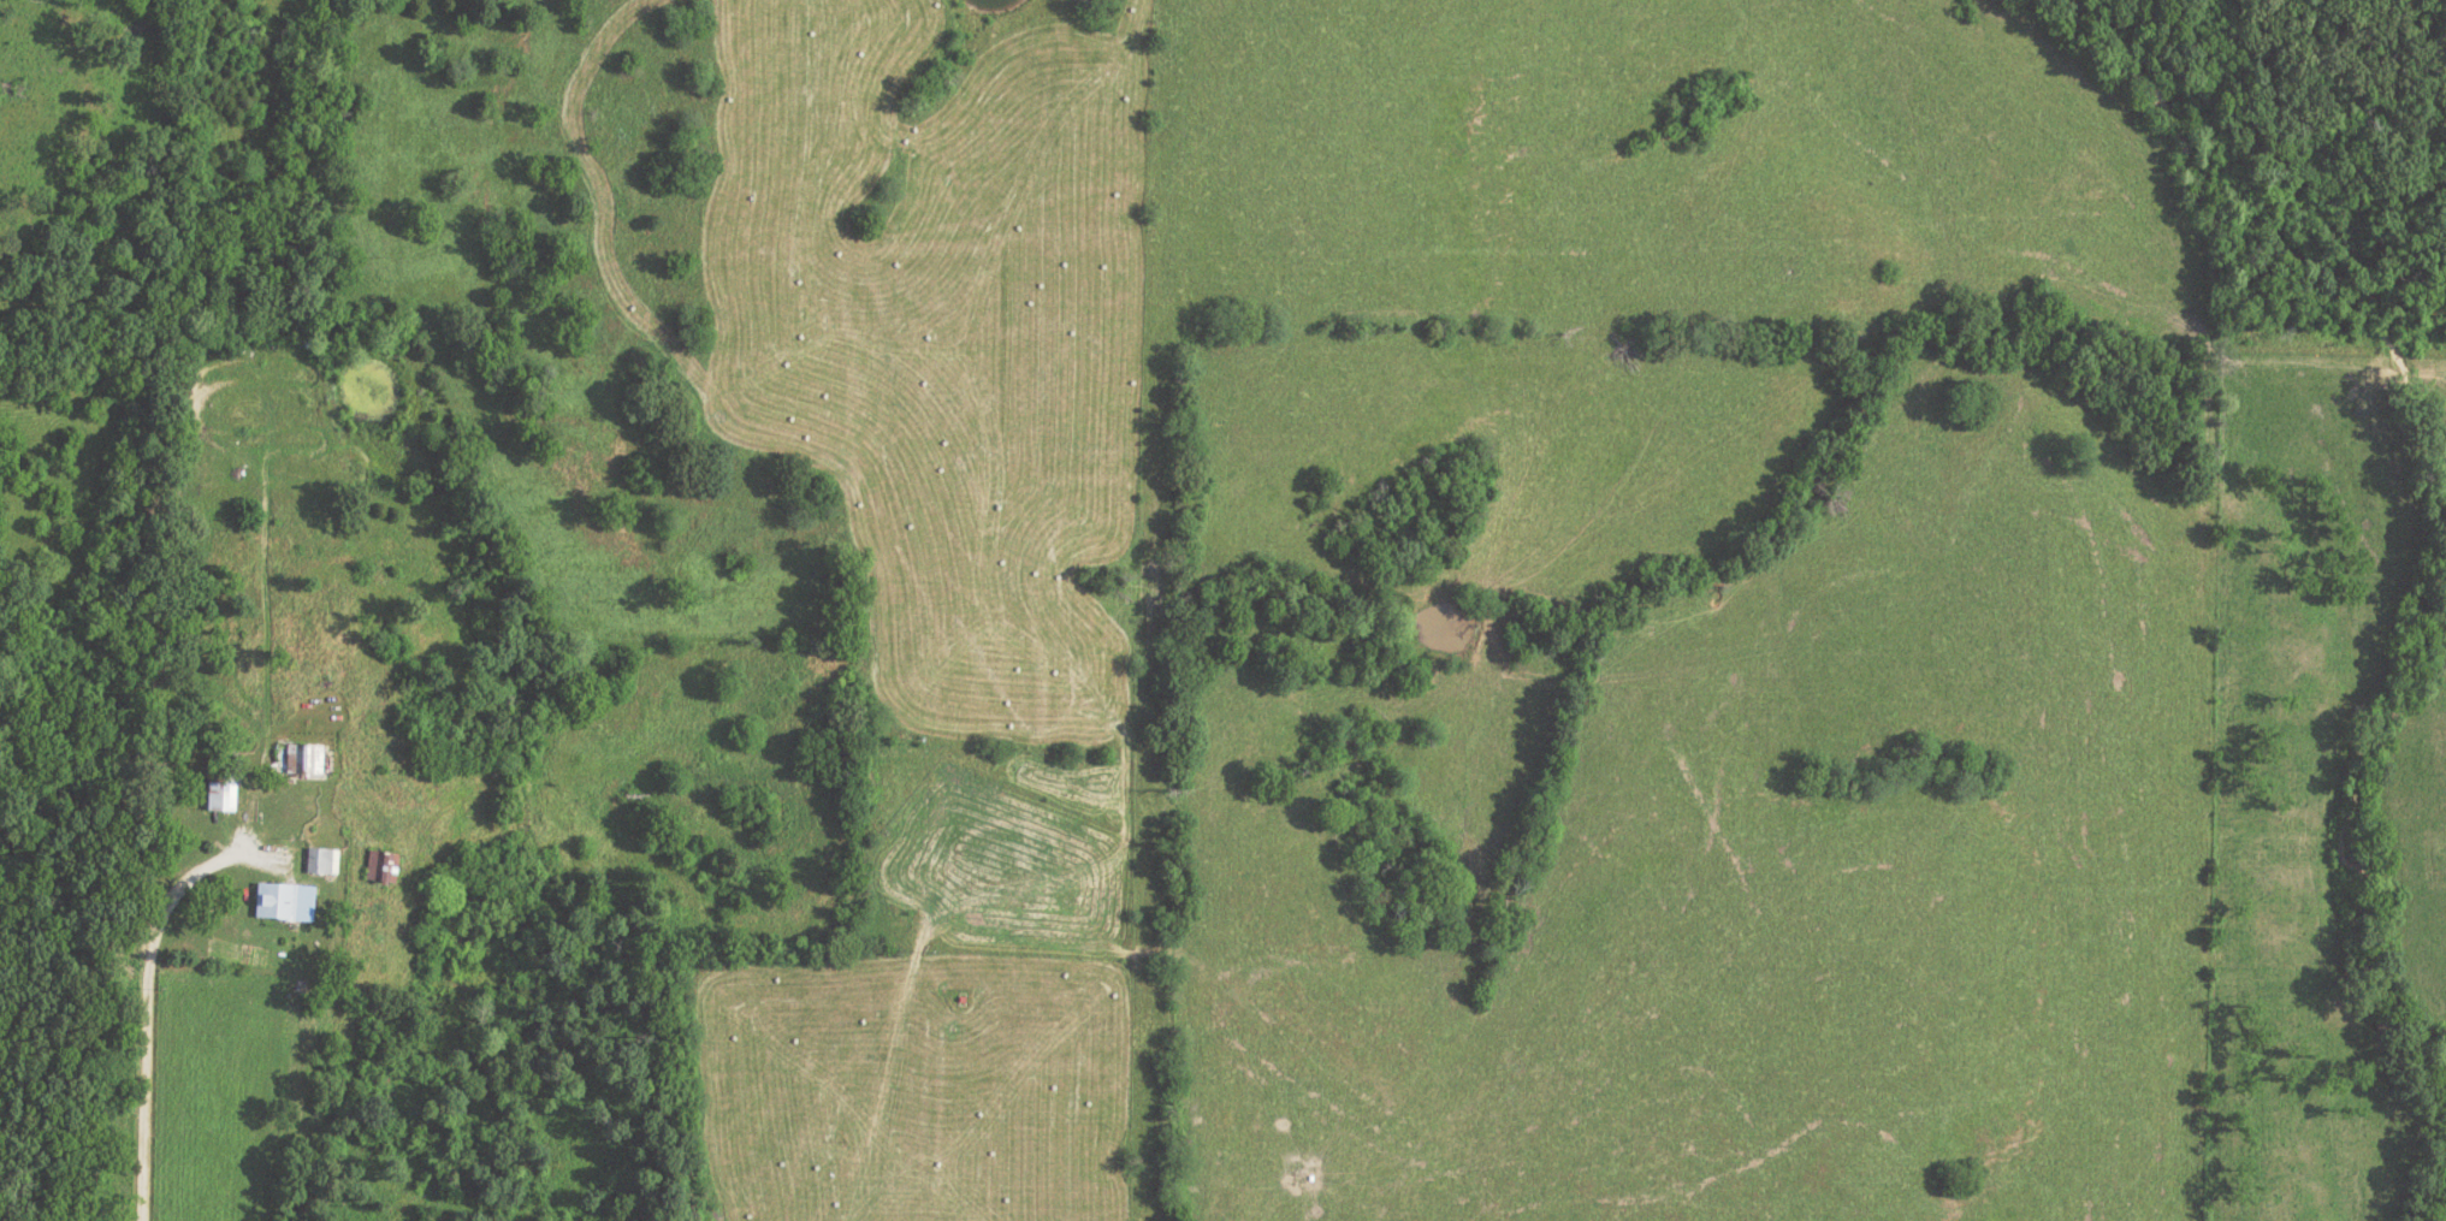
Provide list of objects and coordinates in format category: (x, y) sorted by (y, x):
building: (310, 758)
building: (221, 789)
building: (321, 860)
building: (379, 865)
building: (274, 900)
road: (148, 988)

